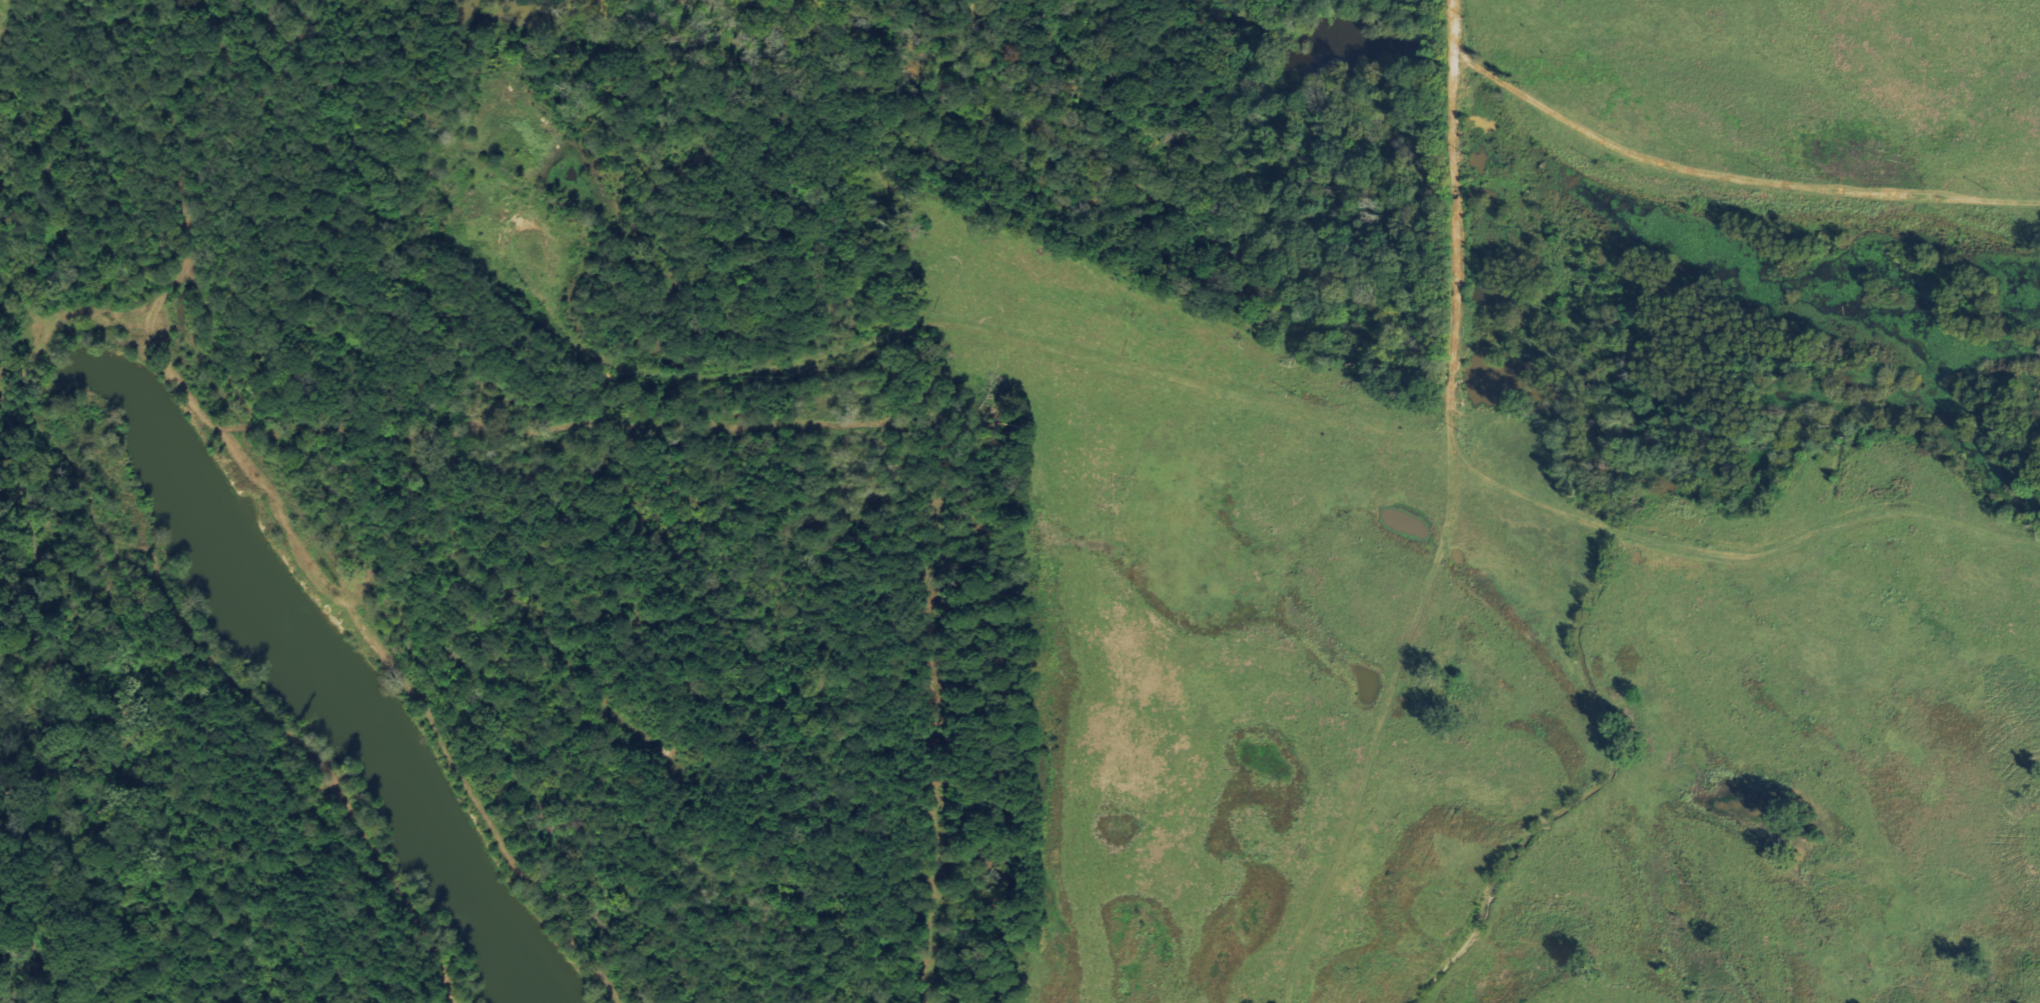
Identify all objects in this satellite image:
road: (84, 493)

